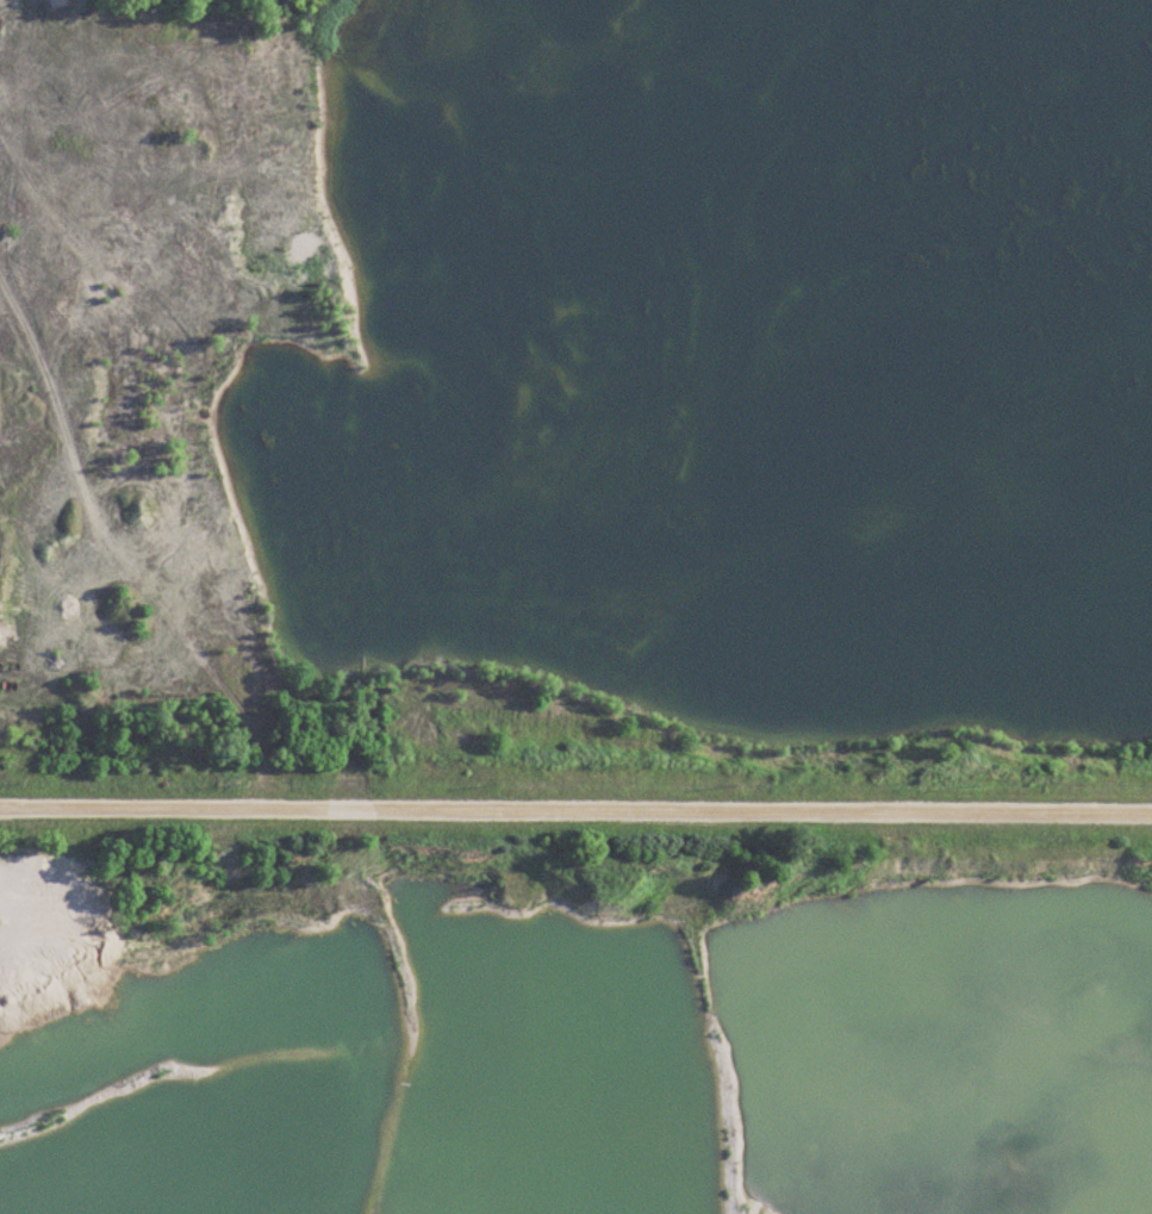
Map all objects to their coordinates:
road: (575, 817)

